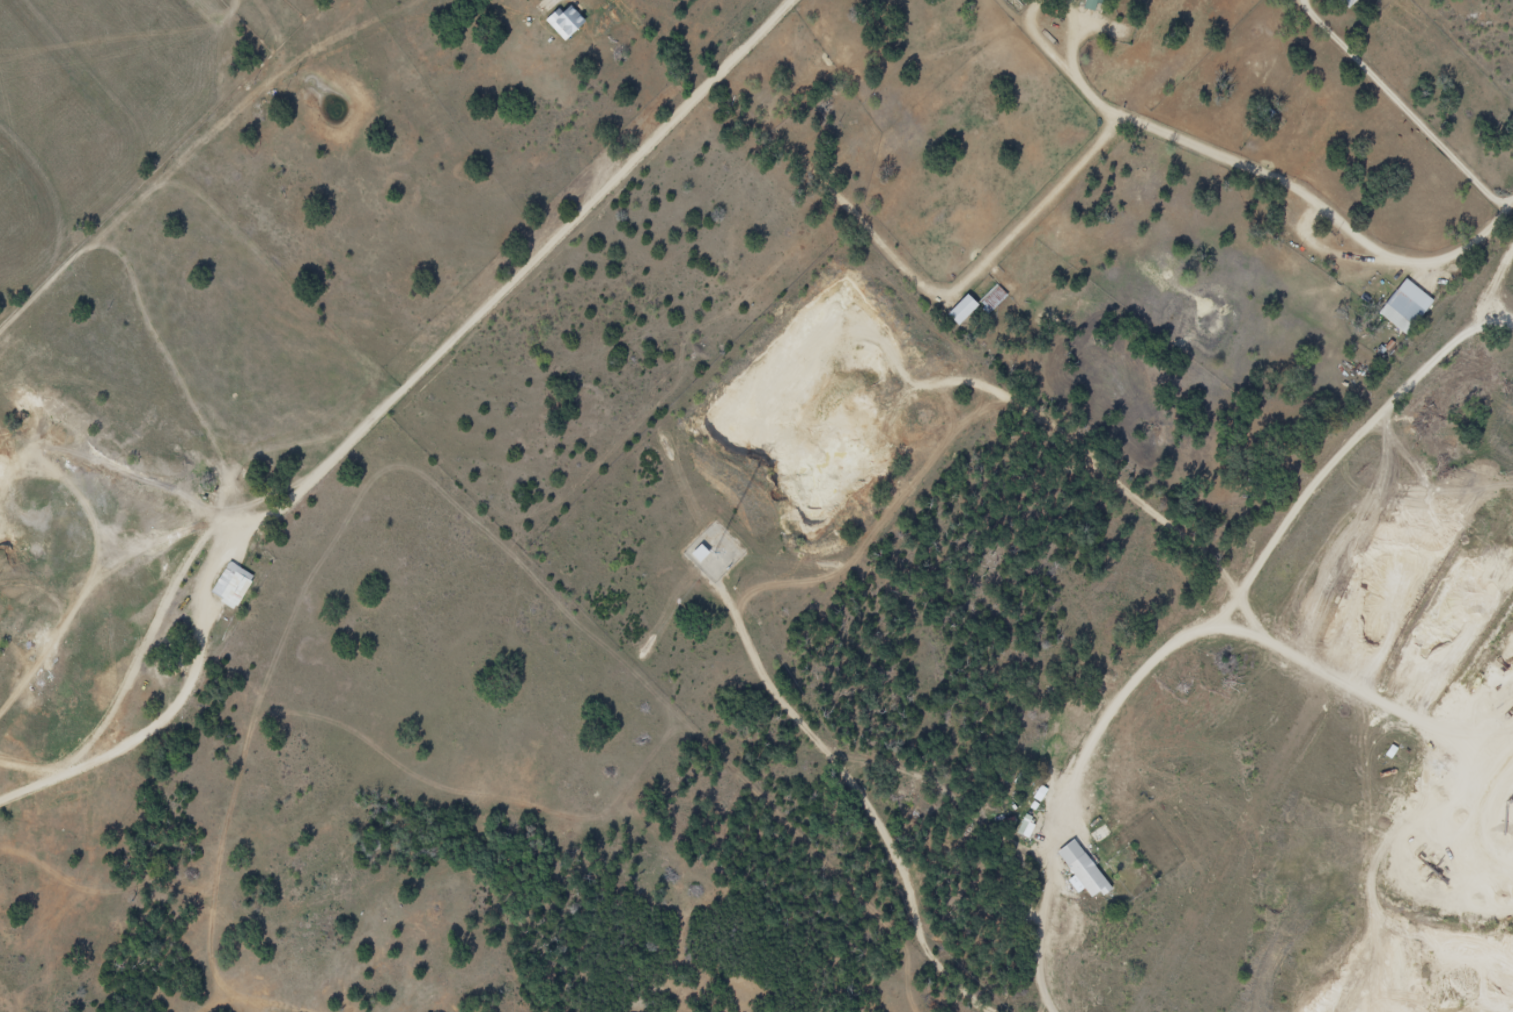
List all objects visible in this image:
building: (1348, 3)
building: (1089, 5)
road: (1405, 106)
road: (1282, 179)
road: (126, 221)
building: (994, 300)
building: (1401, 313)
road: (387, 438)
road: (46, 458)
road: (207, 509)
building: (700, 553)
building: (233, 586)
building: (1027, 830)
building: (1082, 872)

